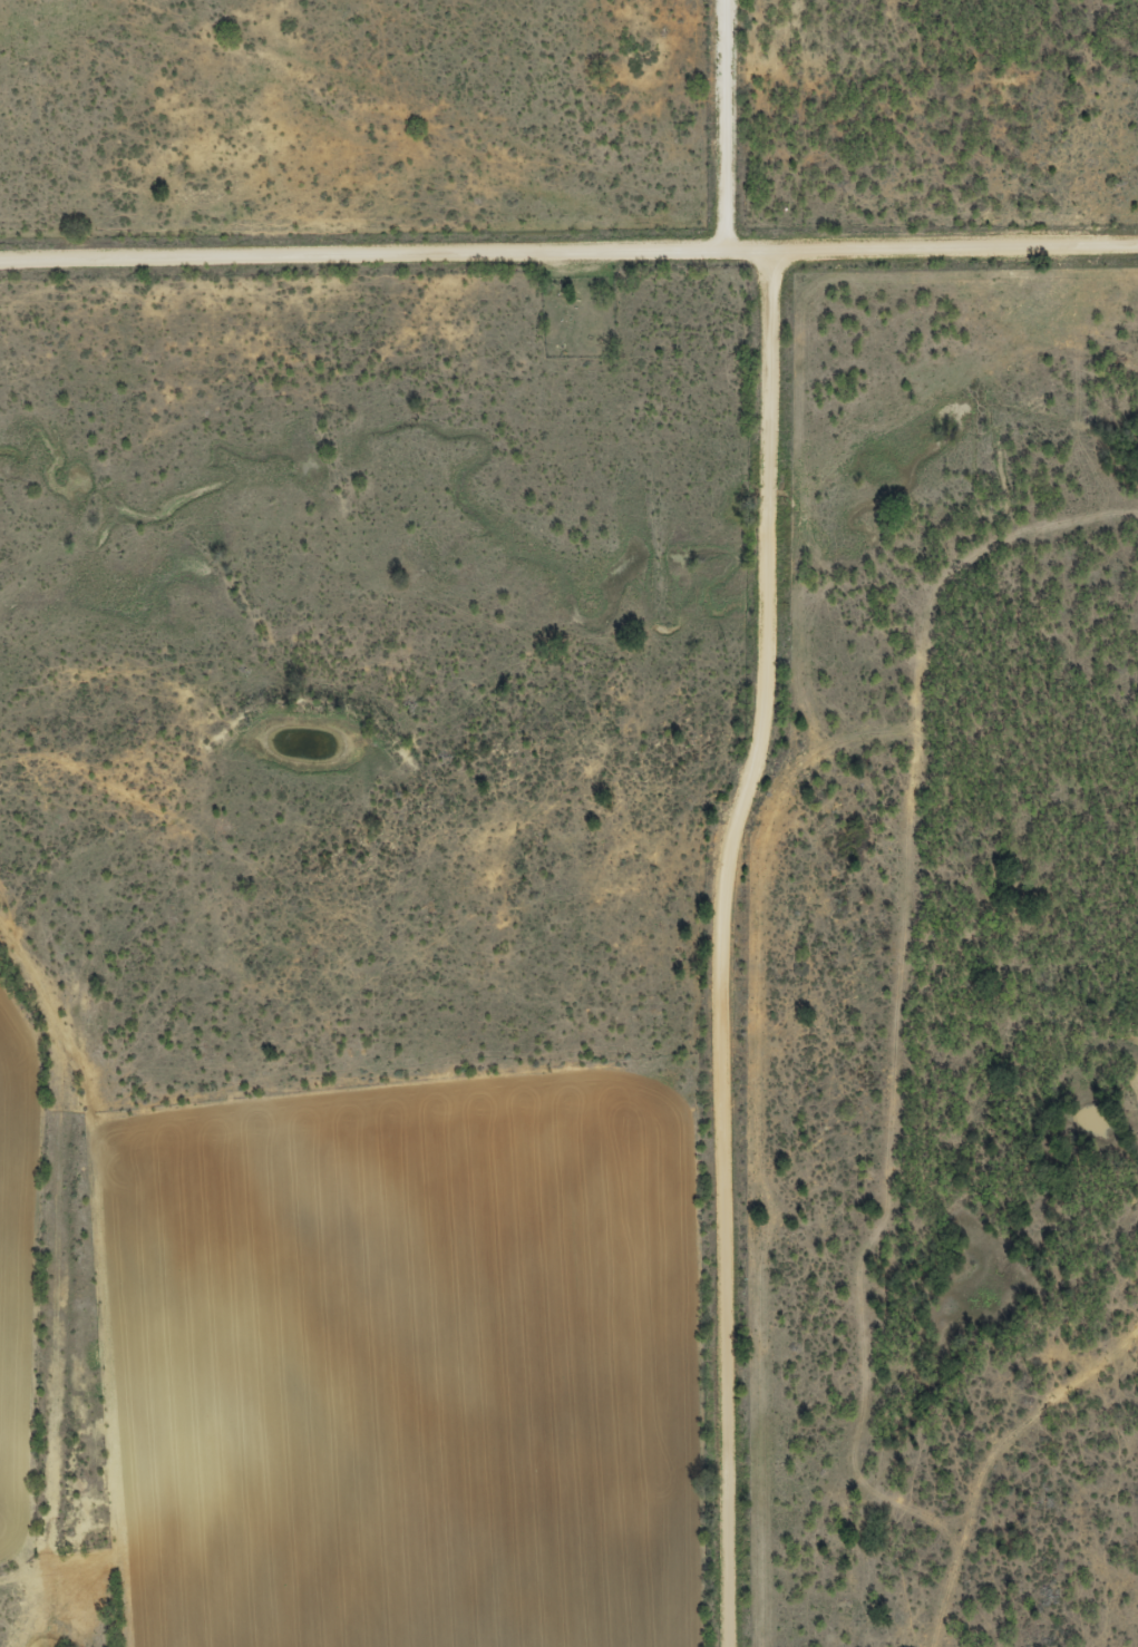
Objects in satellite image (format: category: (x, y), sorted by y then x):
road: (726, 68)
road: (568, 255)
park: (581, 319)
road: (706, 817)
road: (64, 1273)

